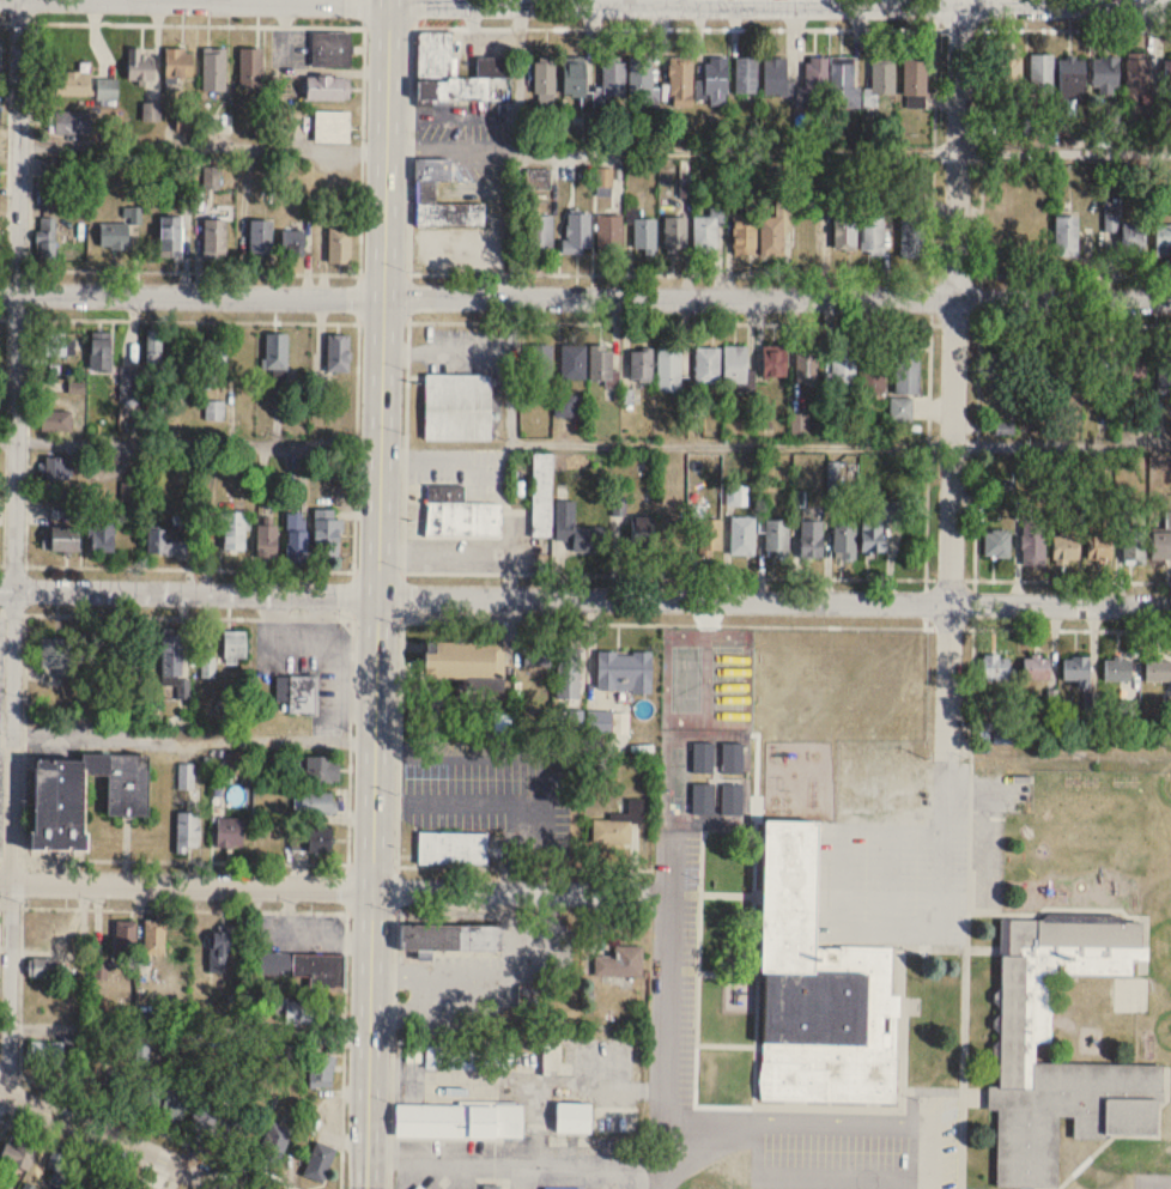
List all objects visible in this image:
road: (675, 4)
road: (1062, 28)
building: (332, 49)
building: (0, 56)
building: (180, 62)
building: (140, 65)
building: (495, 66)
building: (250, 67)
building: (216, 69)
building: (1009, 69)
building: (637, 72)
building: (679, 72)
building: (714, 72)
building: (772, 72)
building: (611, 73)
building: (744, 73)
building: (880, 73)
building: (1042, 73)
building: (1108, 73)
building: (571, 74)
building: (912, 74)
building: (1139, 74)
building: (1167, 74)
building: (1073, 77)
building: (814, 78)
building: (838, 79)
building: (545, 80)
building: (69, 83)
building: (107, 87)
building: (327, 87)
building: (0, 114)
building: (69, 122)
building: (333, 126)
building: (0, 147)
road: (982, 148)
road: (594, 150)
building: (51, 166)
building: (425, 192)
building: (910, 228)
building: (542, 230)
building: (744, 230)
building: (577, 231)
building: (609, 232)
building: (645, 232)
building: (703, 232)
building: (845, 232)
building: (770, 233)
building: (675, 235)
building: (873, 235)
building: (1067, 235)
building: (115, 236)
building: (171, 236)
building: (1003, 236)
building: (1133, 237)
building: (213, 238)
building: (260, 239)
building: (1163, 239)
building: (47, 241)
building: (340, 245)
building: (292, 248)
road: (585, 297)
road: (978, 297)
road: (489, 321)
building: (56, 344)
building: (154, 347)
building: (101, 351)
building: (339, 353)
building: (278, 356)
building: (571, 359)
building: (842, 360)
building: (639, 362)
building: (705, 362)
building: (733, 362)
building: (775, 362)
building: (601, 363)
building: (213, 364)
building: (1104, 364)
building: (541, 365)
building: (667, 366)
building: (870, 366)
building: (1134, 366)
building: (807, 368)
building: (905, 368)
building: (1002, 368)
building: (1063, 368)
building: (1164, 371)
road: (952, 377)
building: (131, 383)
building: (565, 406)
building: (457, 407)
building: (216, 411)
building: (56, 421)
road: (189, 442)
road: (666, 444)
road: (1061, 444)
building: (59, 468)
building: (542, 495)
building: (61, 510)
building: (459, 514)
building: (878, 524)
building: (577, 529)
building: (235, 532)
building: (103, 533)
building: (744, 535)
building: (328, 536)
building: (297, 538)
building: (706, 538)
building: (777, 538)
building: (812, 539)
building: (845, 539)
building: (1099, 539)
road: (14, 540)
building: (62, 540)
building: (166, 540)
building: (1033, 540)
building: (1068, 540)
building: (268, 541)
building: (1163, 541)
building: (997, 544)
building: (1134, 545)
road: (200, 566)
road: (377, 594)
road: (401, 594)
road: (584, 597)
road: (200, 614)
building: (235, 648)
building: (57, 653)
building: (538, 656)
building: (463, 660)
building: (174, 661)
building: (993, 666)
building: (1035, 666)
building: (1074, 667)
building: (1116, 667)
building: (208, 668)
building: (1157, 668)
building: (568, 672)
building: (624, 672)
building: (297, 694)
building: (123, 700)
road: (193, 738)
road: (5, 739)
road: (538, 752)
building: (704, 758)
building: (733, 759)
building: (322, 770)
building: (84, 796)
building: (704, 799)
building: (732, 799)
building: (315, 802)
building: (188, 831)
building: (230, 832)
building: (612, 832)
building: (310, 842)
building: (453, 848)
parking lot: (922, 870)
road: (335, 887)
road: (868, 927)
road: (546, 929)
parking lot: (681, 932)
building: (153, 938)
building: (450, 938)
building: (126, 942)
building: (222, 946)
building: (621, 961)
building: (308, 966)
building: (44, 967)
building: (101, 970)
road: (479, 977)
building: (820, 988)
building: (304, 1012)
road: (414, 1014)
building: (1017, 1019)
road: (188, 1031)
road: (666, 1031)
building: (48, 1052)
building: (466, 1057)
building: (321, 1070)
building: (162, 1098)
building: (574, 1117)
building: (213, 1118)
road: (2, 1120)
building: (459, 1121)
road: (150, 1127)
road: (818, 1129)
road: (117, 1140)
parking lot: (864, 1141)
building: (274, 1142)
road: (84, 1152)
building: (19, 1155)
building: (318, 1160)
building: (59, 1161)
road: (522, 1169)
road: (523, 1179)
building: (419, 1187)
building: (492, 1187)
building: (560, 1188)

